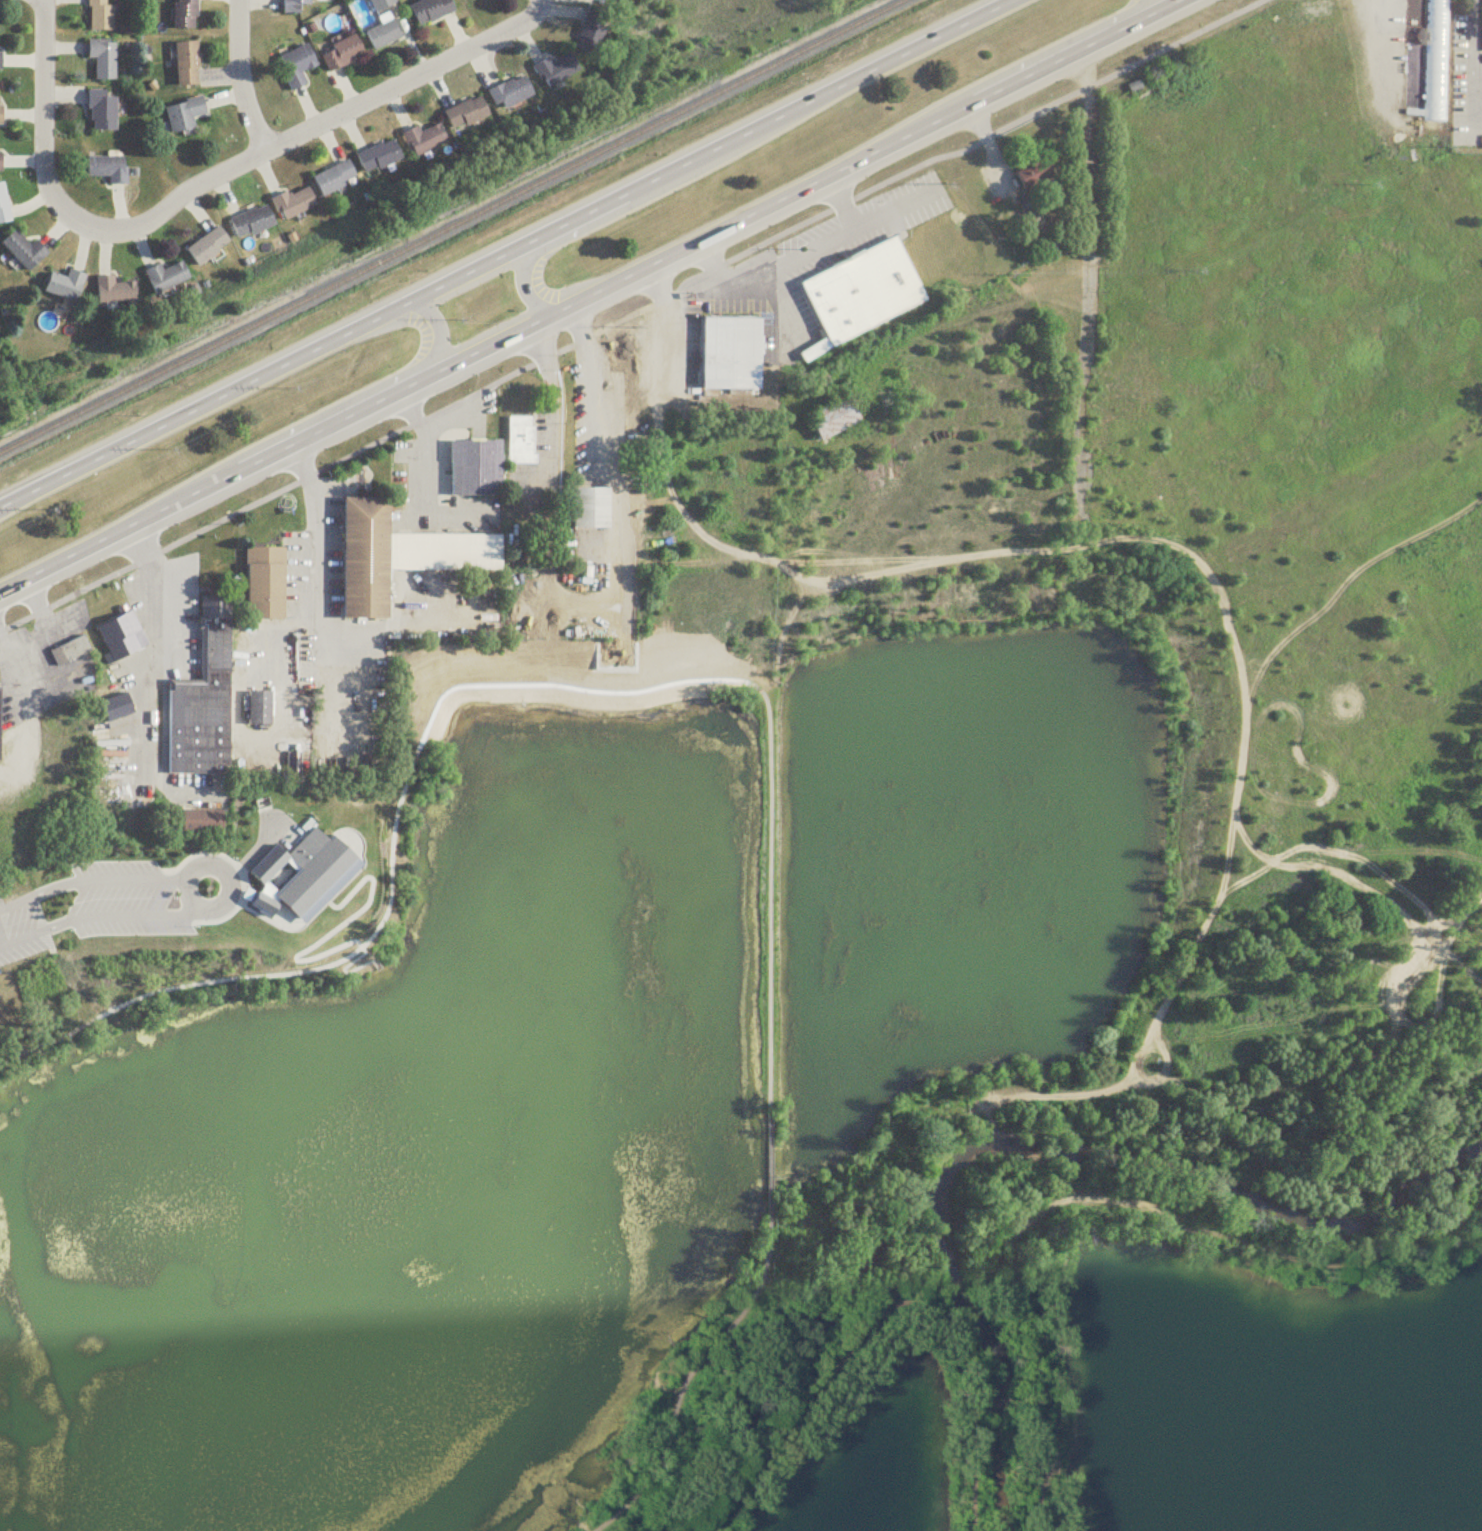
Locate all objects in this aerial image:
building: (597, 0)
road: (540, 5)
building: (297, 6)
building: (1310, 10)
building: (433, 12)
building: (187, 15)
building: (101, 17)
road: (1474, 22)
road: (1383, 24)
road: (1119, 25)
building: (593, 34)
parking lot: (1383, 34)
building: (384, 37)
building: (343, 55)
building: (104, 60)
building: (1, 63)
building: (188, 66)
building: (299, 67)
building: (557, 72)
road: (240, 76)
road: (1474, 82)
parking lot: (1466, 83)
building: (511, 94)
building: (0, 107)
building: (103, 113)
road: (43, 114)
building: (467, 115)
building: (186, 116)
road: (305, 128)
building: (425, 141)
road: (1366, 144)
building: (381, 158)
building: (1, 164)
building: (109, 170)
building: (1034, 175)
building: (336, 179)
road: (841, 202)
building: (295, 205)
building: (4, 207)
building: (1032, 222)
building: (253, 224)
railway: (452, 225)
road: (812, 246)
building: (209, 248)
building: (25, 252)
road: (507, 254)
road: (712, 263)
road: (524, 270)
road: (1088, 272)
building: (167, 279)
parking lot: (798, 279)
building: (66, 287)
building: (115, 292)
building: (863, 292)
road: (590, 296)
road: (688, 316)
road: (962, 325)
road: (436, 353)
building: (731, 355)
road: (547, 365)
road: (585, 387)
road: (411, 407)
building: (835, 420)
building: (520, 438)
road: (552, 455)
parking lot: (542, 456)
building: (473, 464)
parking lot: (444, 470)
parking lot: (606, 472)
road: (311, 483)
road: (677, 496)
building: (584, 503)
road: (423, 505)
road: (617, 509)
road: (139, 546)
building: (393, 549)
road: (1186, 550)
road: (877, 558)
road: (790, 572)
building: (262, 577)
parking lot: (167, 612)
road: (318, 613)
parking lot: (325, 617)
road: (170, 625)
road: (48, 628)
building: (118, 634)
road: (1229, 636)
building: (70, 646)
road: (18, 677)
road: (729, 681)
building: (201, 700)
building: (257, 703)
building: (111, 704)
road: (146, 732)
road: (1244, 744)
building: (203, 822)
road: (1274, 865)
road: (238, 867)
building: (294, 871)
road: (230, 881)
parking lot: (118, 899)
road: (13, 904)
road: (316, 905)
road: (1400, 907)
road: (189, 910)
road: (335, 925)
road: (1288, 1034)
road: (1165, 1069)
road: (1097, 1082)
park: (429, 1147)
road: (1238, 1240)
river: (998, 1353)
road: (1035, 1376)
road: (964, 1388)
road: (807, 1398)

